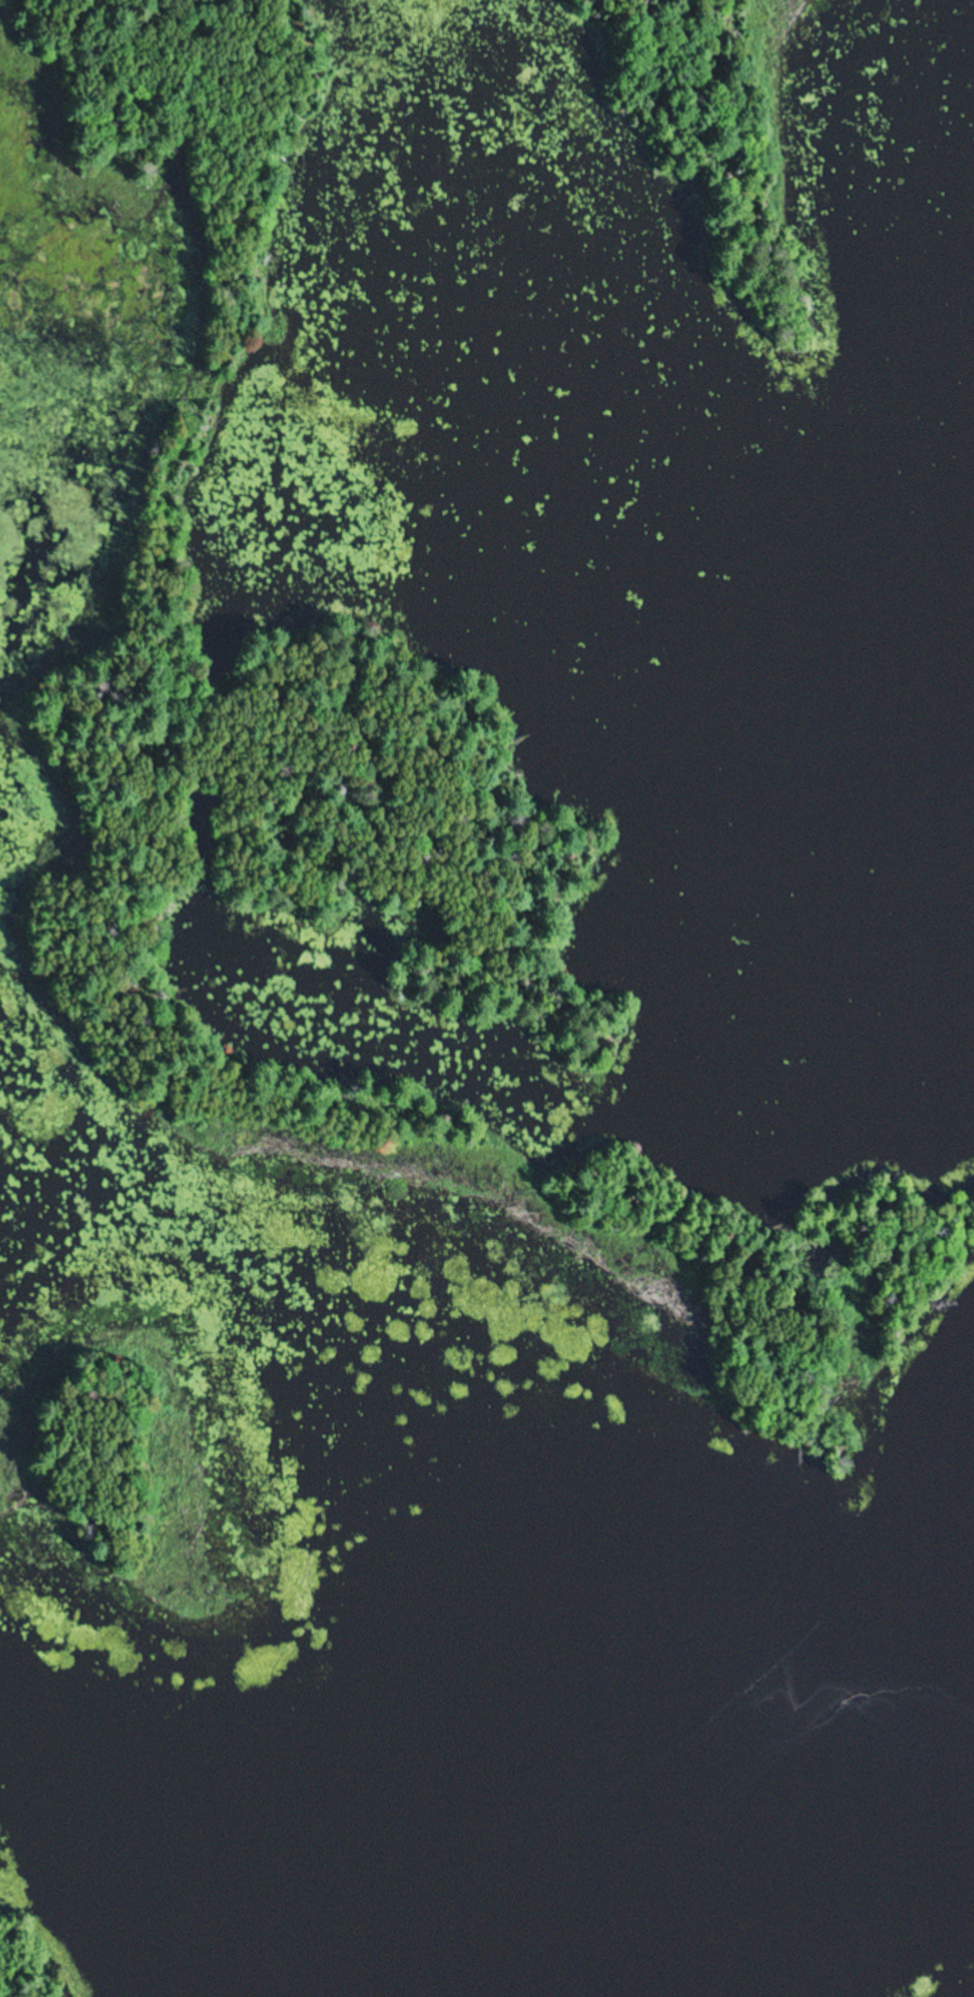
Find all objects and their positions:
river: (813, 1905)

